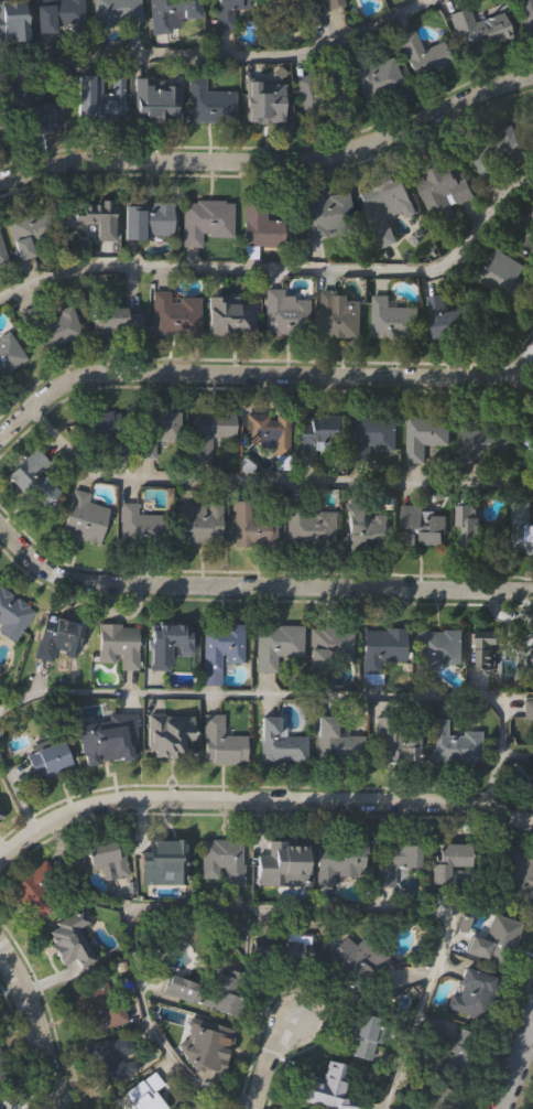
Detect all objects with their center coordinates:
building: (330, 2)
building: (116, 11)
building: (227, 11)
building: (284, 13)
building: (526, 13)
building: (173, 14)
building: (12, 15)
building: (58, 15)
building: (478, 28)
building: (421, 53)
road: (219, 55)
building: (376, 77)
building: (318, 96)
building: (97, 97)
building: (154, 97)
building: (262, 99)
building: (208, 101)
building: (25, 119)
building: (494, 151)
road: (273, 159)
building: (439, 184)
building: (387, 196)
building: (326, 212)
building: (93, 218)
building: (146, 218)
building: (204, 219)
building: (258, 225)
building: (33, 228)
building: (1, 250)
road: (283, 268)
building: (499, 272)
building: (173, 312)
building: (338, 312)
building: (284, 313)
building: (230, 315)
building: (443, 315)
building: (391, 316)
building: (116, 319)
building: (56, 326)
building: (8, 347)
road: (262, 373)
building: (95, 424)
building: (154, 429)
building: (319, 429)
building: (207, 430)
building: (269, 432)
building: (423, 433)
building: (371, 434)
building: (529, 438)
building: (485, 442)
building: (32, 478)
road: (266, 481)
building: (83, 517)
building: (199, 521)
building: (254, 525)
building: (139, 526)
building: (311, 526)
building: (365, 526)
building: (420, 526)
building: (529, 531)
building: (478, 532)
road: (258, 588)
building: (13, 612)
building: (56, 636)
building: (492, 639)
building: (118, 644)
building: (275, 644)
building: (220, 645)
building: (168, 646)
building: (327, 646)
building: (381, 647)
building: (437, 648)
road: (306, 692)
building: (527, 710)
building: (168, 736)
building: (107, 737)
building: (279, 741)
building: (220, 742)
building: (367, 742)
building: (452, 744)
building: (47, 760)
building: (531, 784)
road: (17, 792)
road: (261, 798)
building: (0, 819)
building: (161, 852)
building: (281, 857)
building: (107, 858)
building: (447, 859)
building: (221, 860)
building: (338, 860)
building: (393, 861)
building: (518, 872)
building: (36, 891)
road: (264, 906)
building: (493, 940)
building: (68, 944)
building: (295, 951)
building: (348, 963)
building: (471, 992)
building: (199, 994)
building: (96, 1006)
road: (33, 1029)
building: (365, 1035)
building: (205, 1045)
building: (461, 1051)
building: (110, 1057)
road: (262, 1057)
road: (515, 1060)
building: (2, 1074)
park: (524, 1087)
building: (326, 1088)
building: (141, 1094)
building: (187, 1106)

